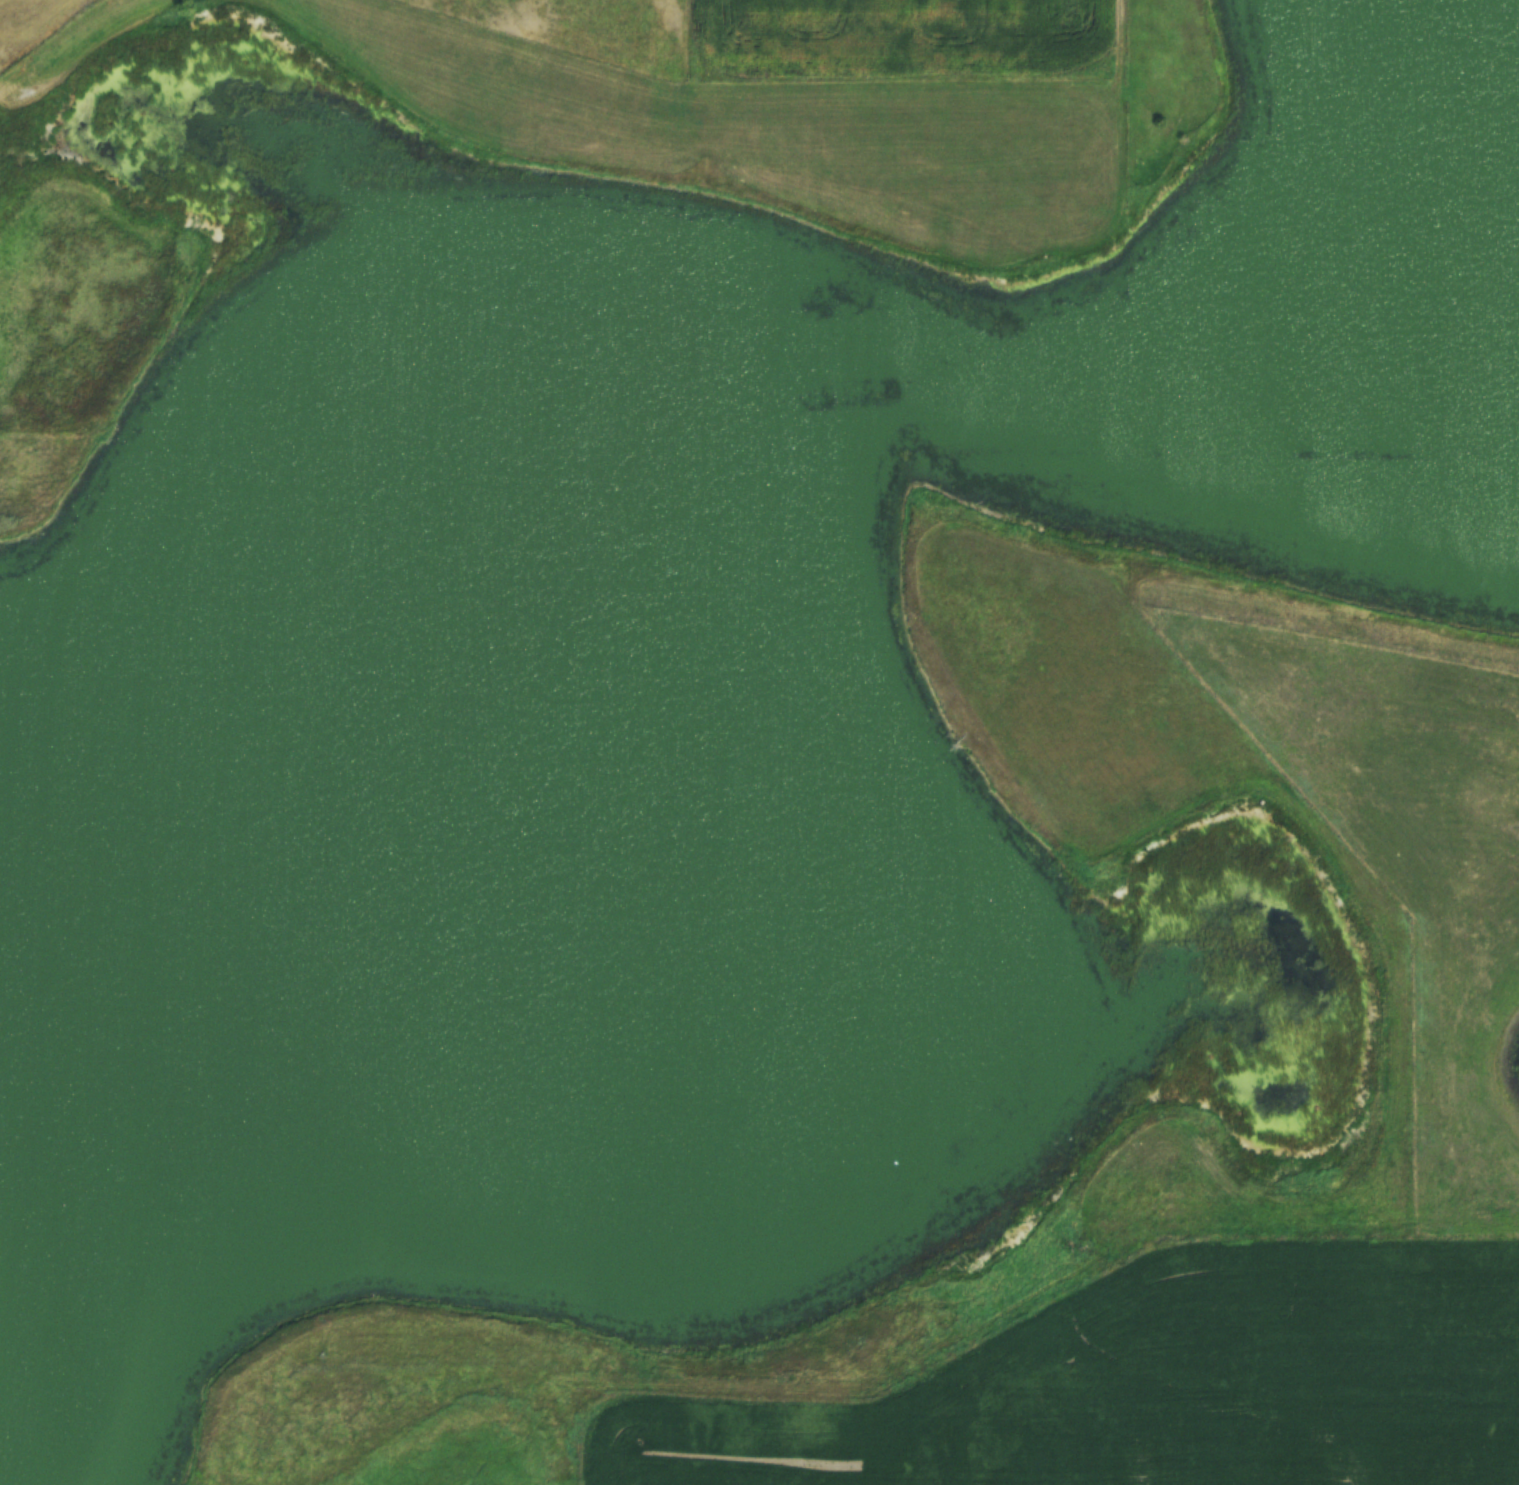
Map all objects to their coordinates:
crop: (32, 26)

